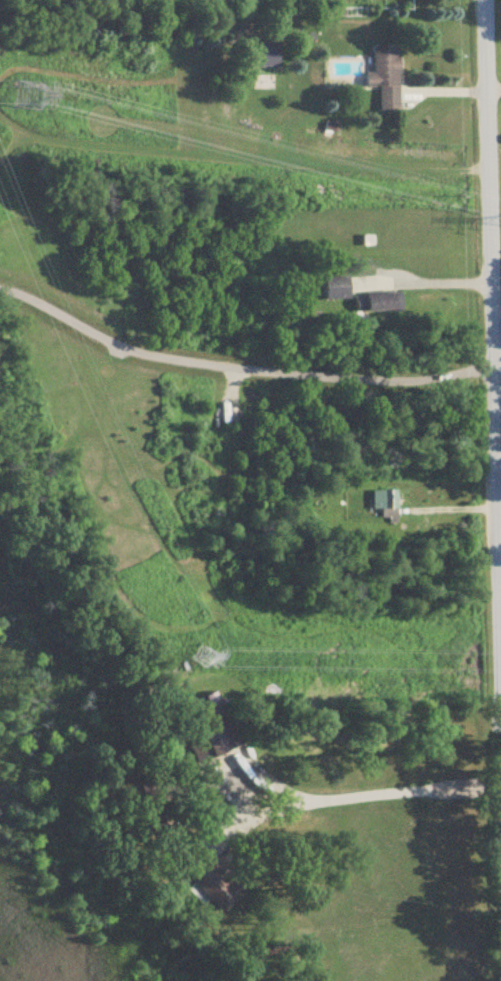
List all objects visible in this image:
building: (264, 55)
building: (387, 78)
road: (494, 87)
power tower: (30, 98)
road: (433, 285)
building: (339, 288)
building: (380, 305)
road: (493, 312)
road: (239, 367)
building: (387, 504)
road: (500, 533)
power tower: (206, 660)
building: (213, 733)
building: (152, 794)
road: (376, 794)
building: (211, 880)

